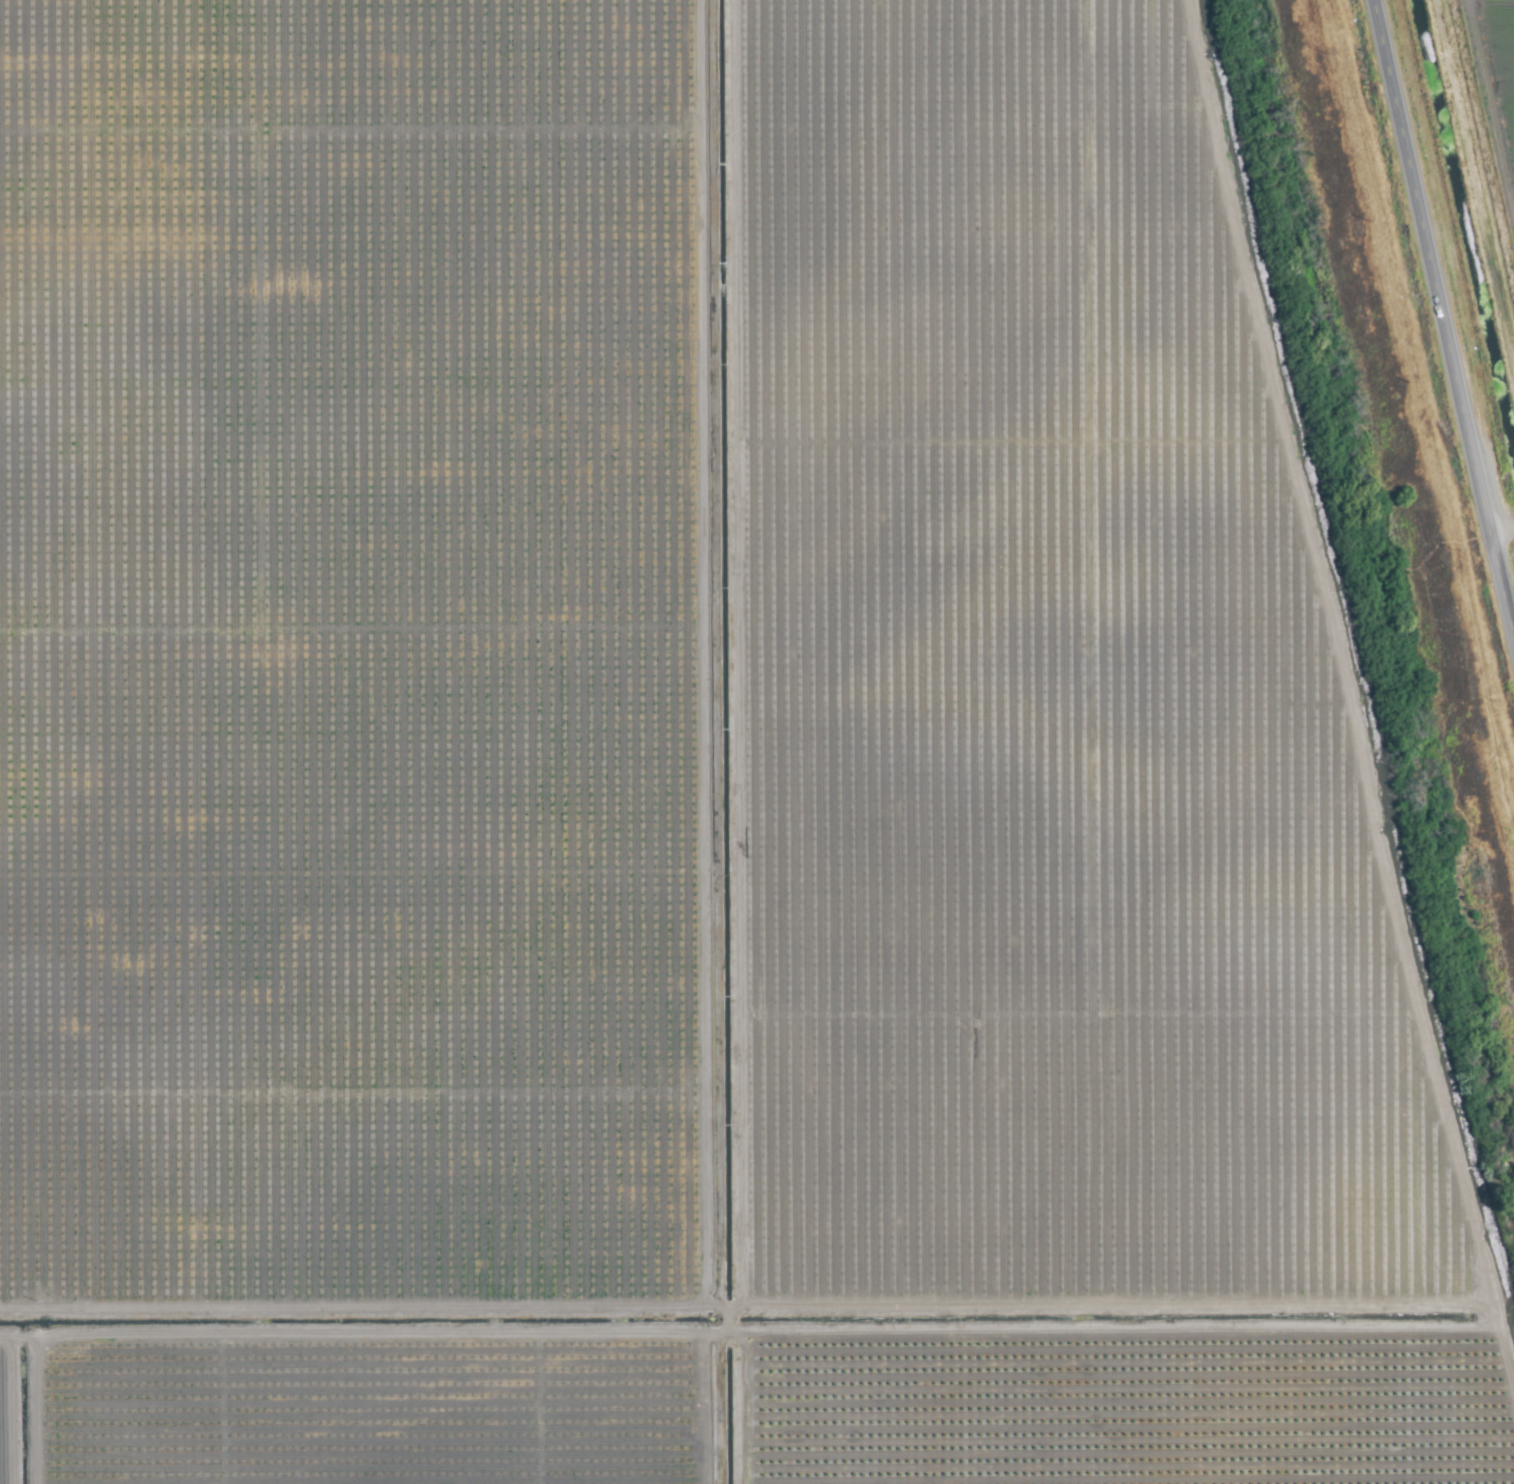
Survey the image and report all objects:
road: (1447, 293)
road: (1507, 525)

